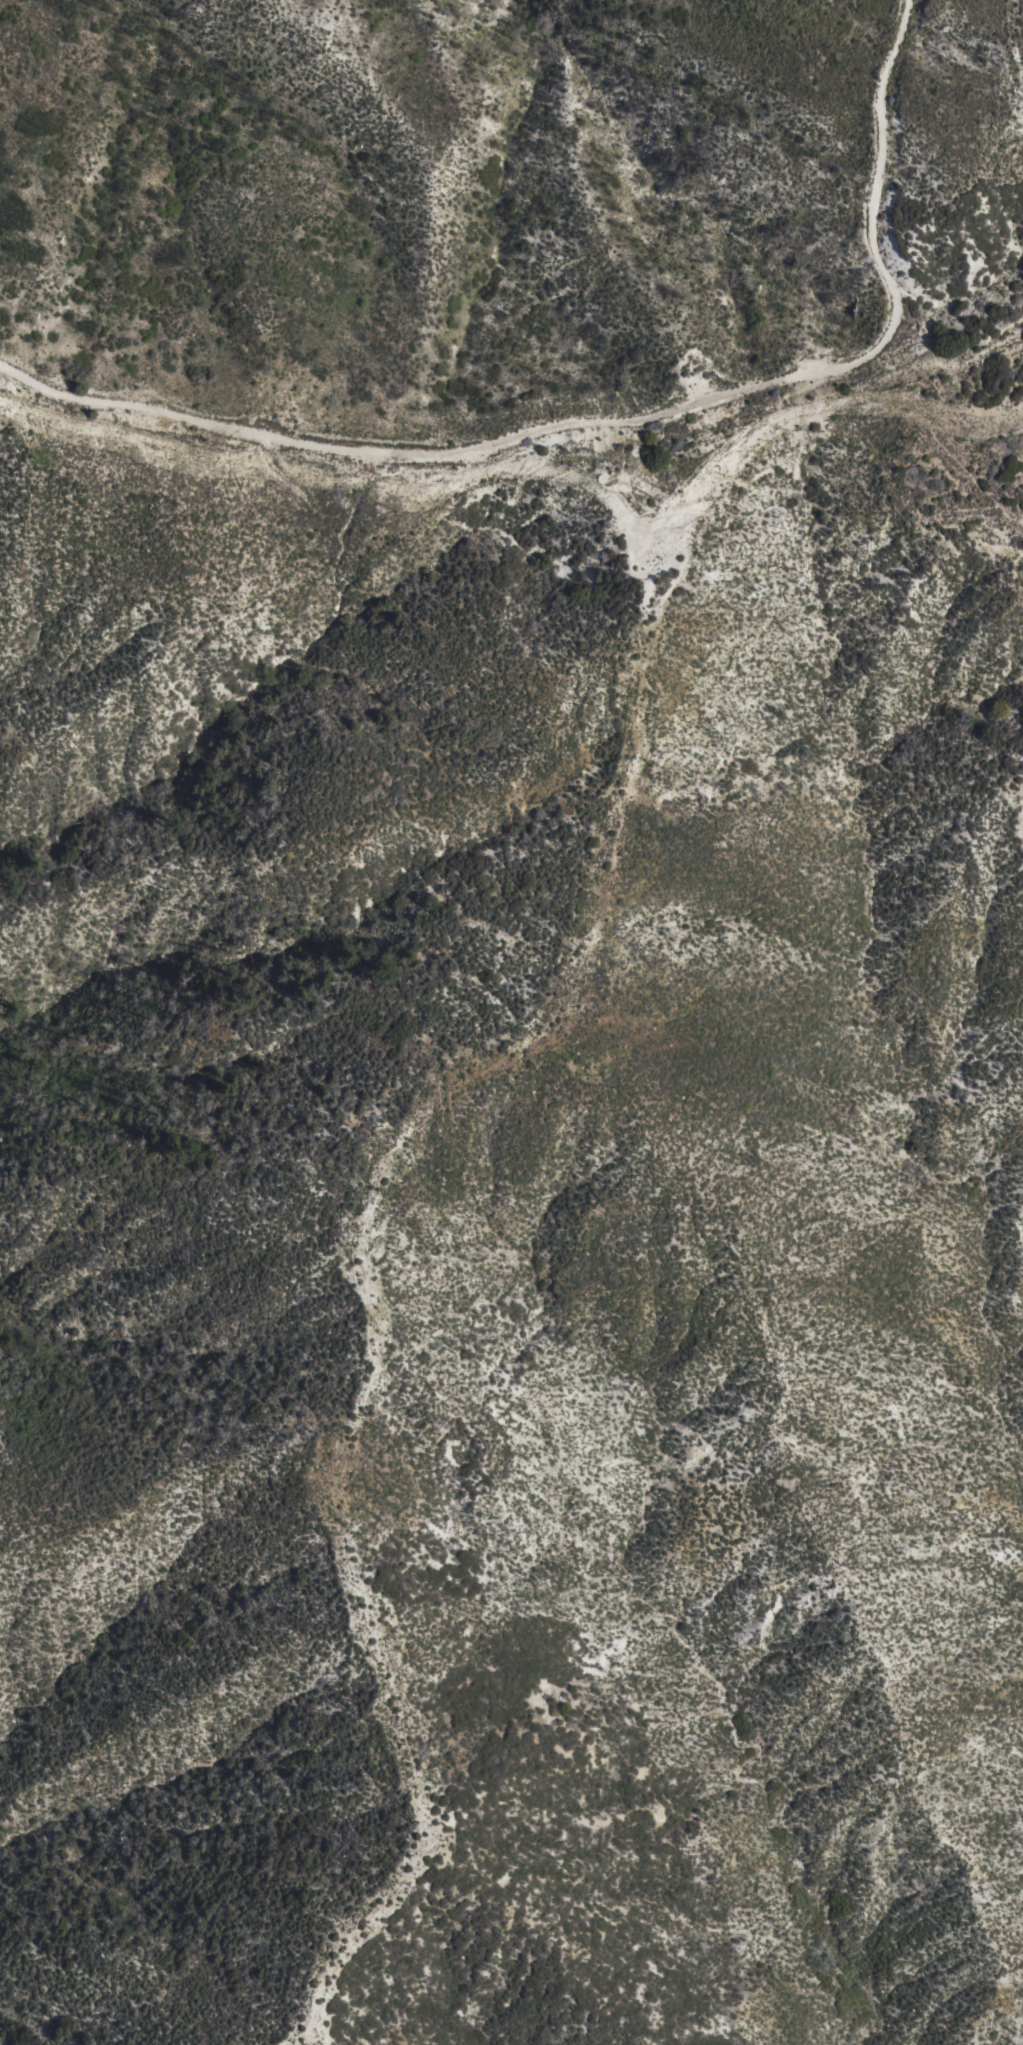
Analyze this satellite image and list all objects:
road: (622, 414)
building: (601, 478)

